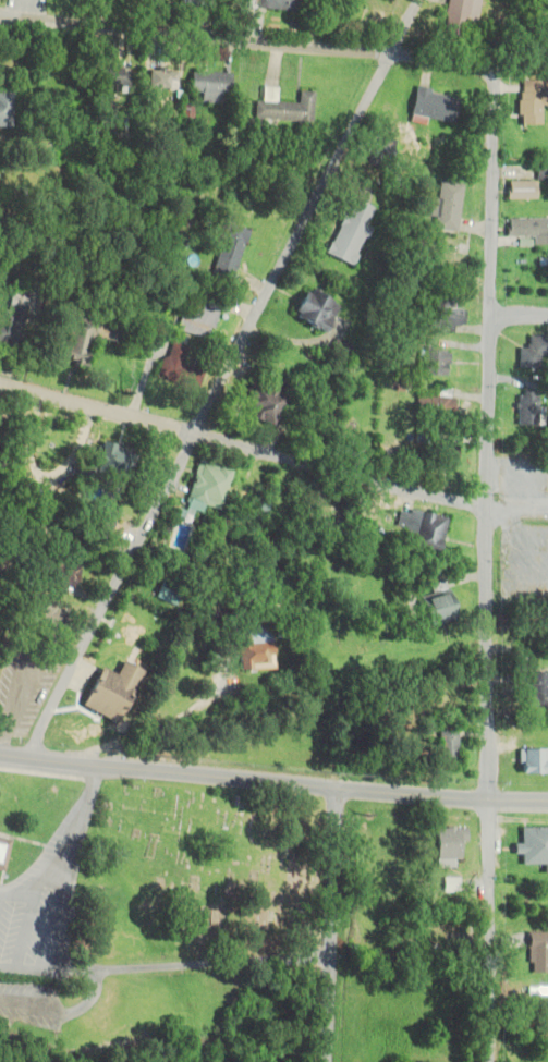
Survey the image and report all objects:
building: (190, 2)
building: (276, 4)
building: (456, 16)
road: (247, 39)
building: (109, 74)
building: (165, 77)
building: (210, 86)
building: (531, 100)
building: (433, 106)
building: (101, 108)
building: (284, 109)
building: (2, 112)
building: (378, 152)
building: (517, 191)
building: (443, 207)
building: (528, 230)
building: (348, 232)
building: (226, 253)
building: (309, 312)
building: (199, 313)
building: (443, 315)
road: (519, 318)
building: (10, 319)
building: (77, 340)
building: (337, 349)
building: (532, 353)
building: (170, 362)
building: (433, 364)
road: (222, 381)
building: (401, 384)
building: (259, 405)
building: (434, 405)
building: (524, 411)
building: (445, 456)
road: (272, 459)
building: (107, 462)
building: (205, 486)
building: (99, 523)
building: (419, 529)
road: (486, 567)
building: (63, 574)
building: (436, 609)
building: (251, 651)
building: (109, 692)
building: (536, 694)
building: (438, 697)
building: (446, 749)
building: (532, 762)
road: (273, 782)
building: (446, 845)
building: (533, 846)
building: (2, 854)
park: (197, 869)
road: (31, 884)
building: (448, 884)
road: (57, 905)
building: (447, 914)
road: (330, 925)
road: (20, 930)
building: (536, 951)
road: (187, 965)
road: (23, 976)
road: (77, 1003)

